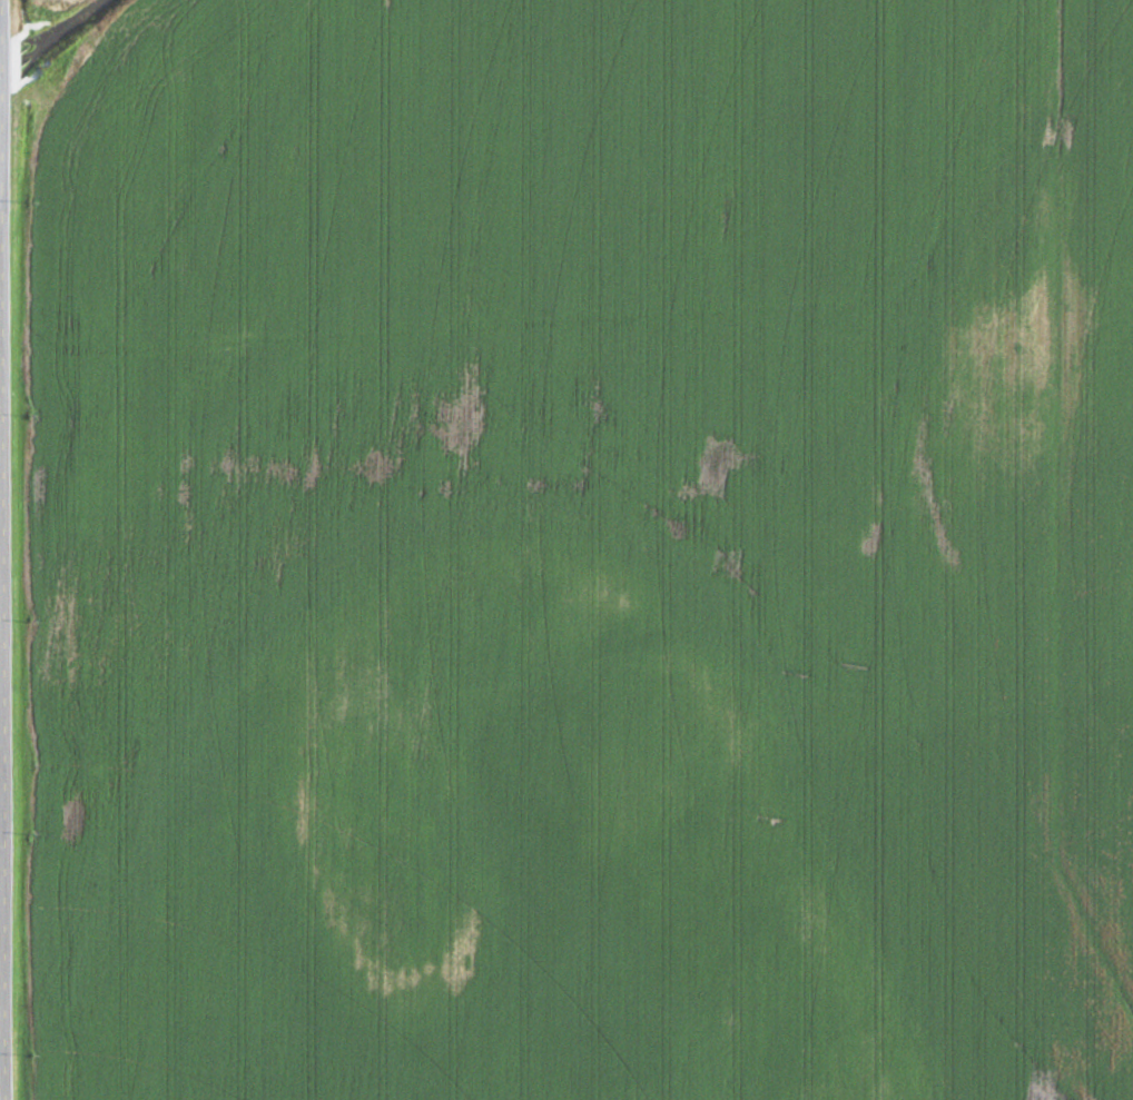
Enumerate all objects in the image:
road: (3, 549)

